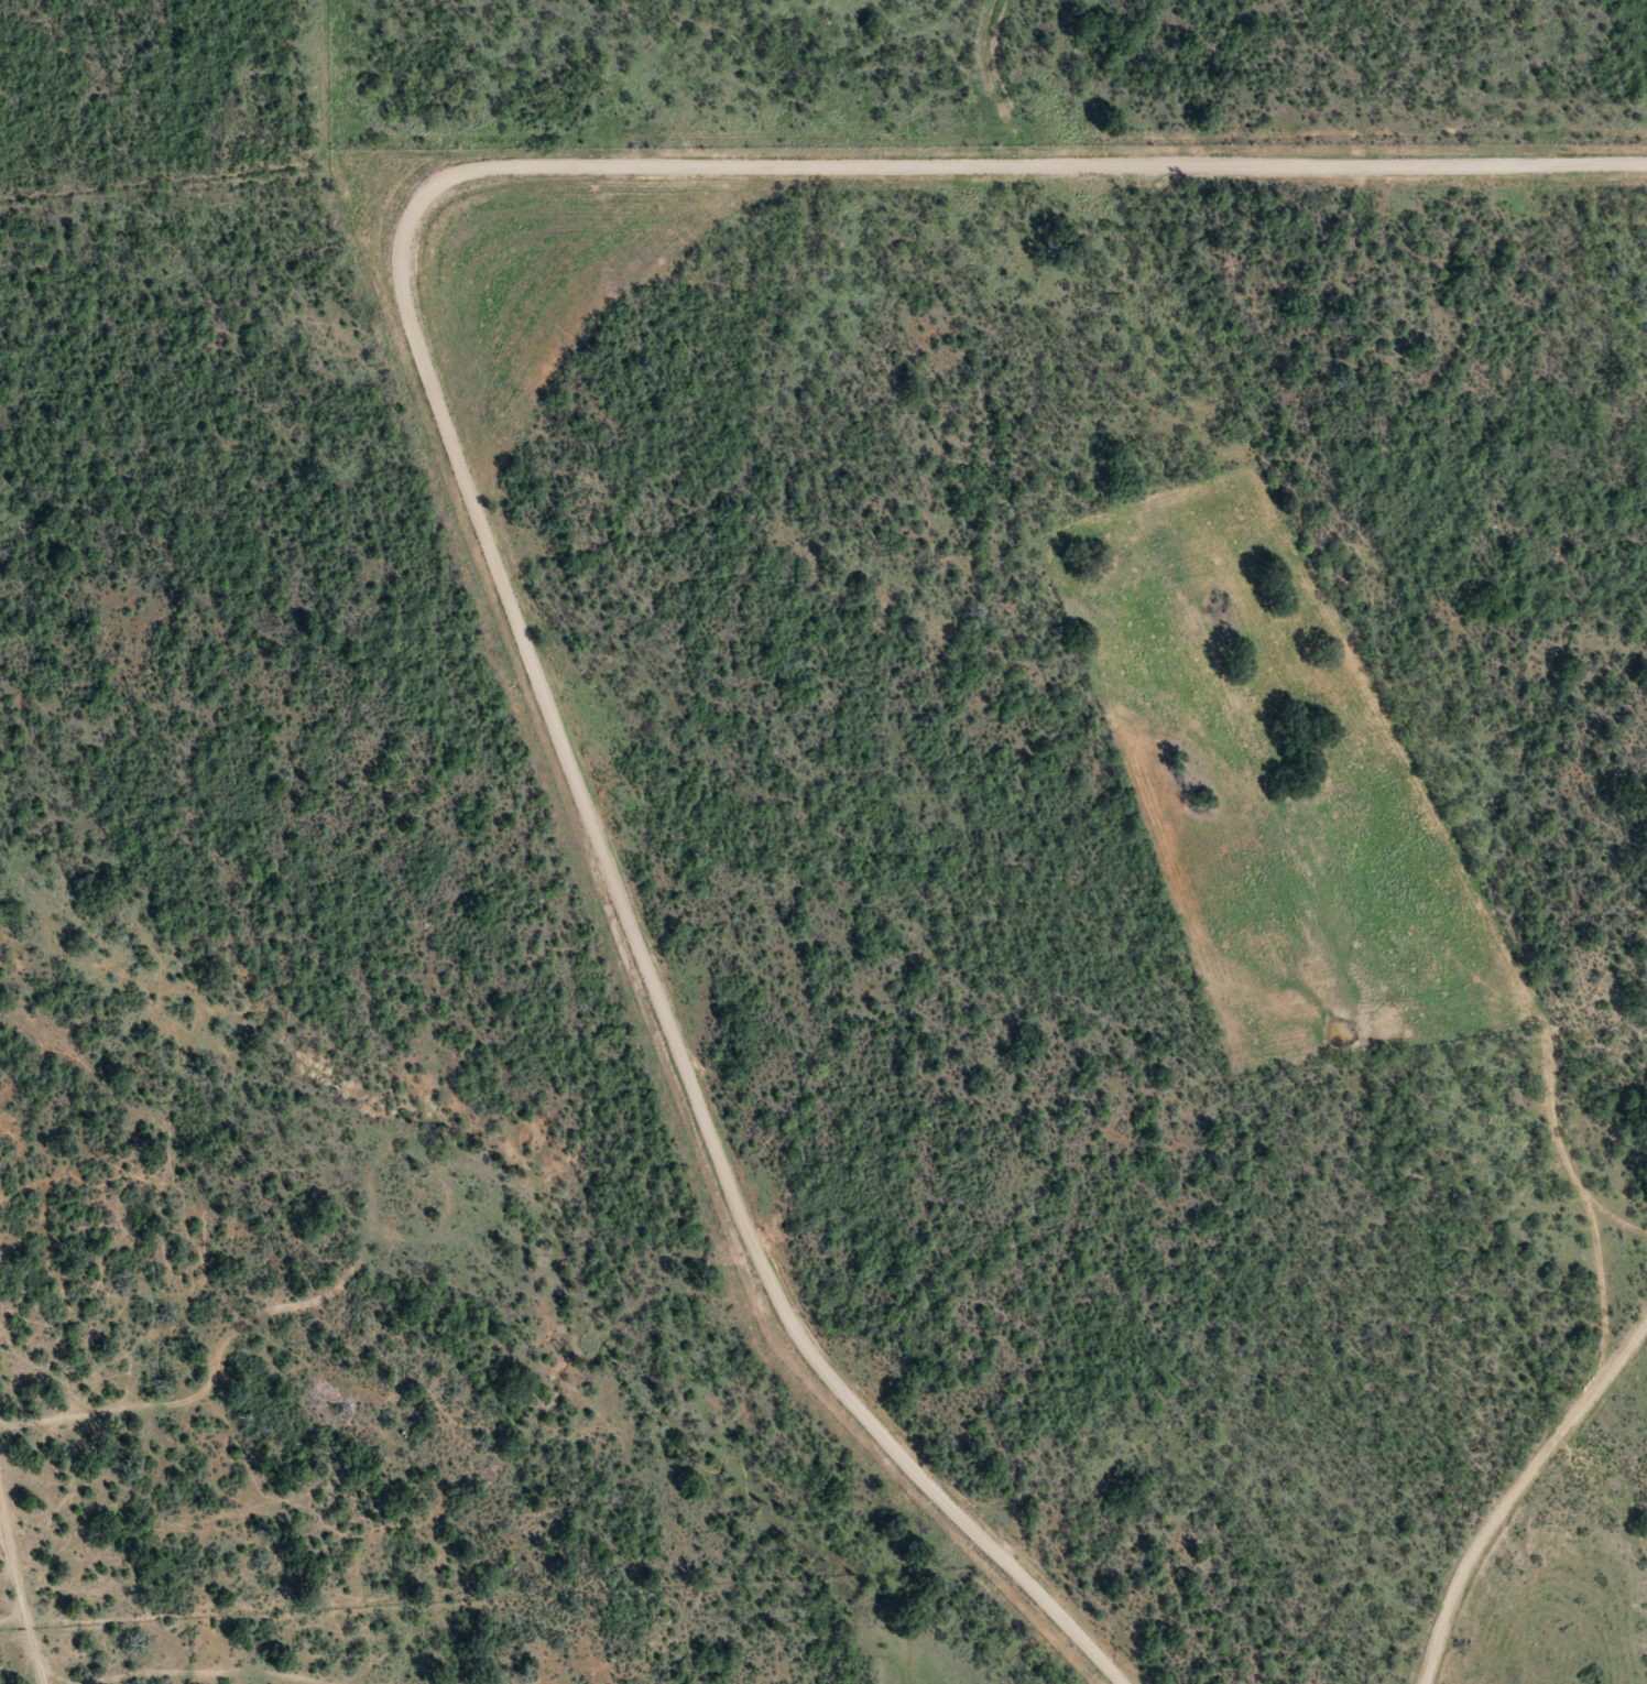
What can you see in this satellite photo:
road: (1516, 1492)
road: (22, 1580)

